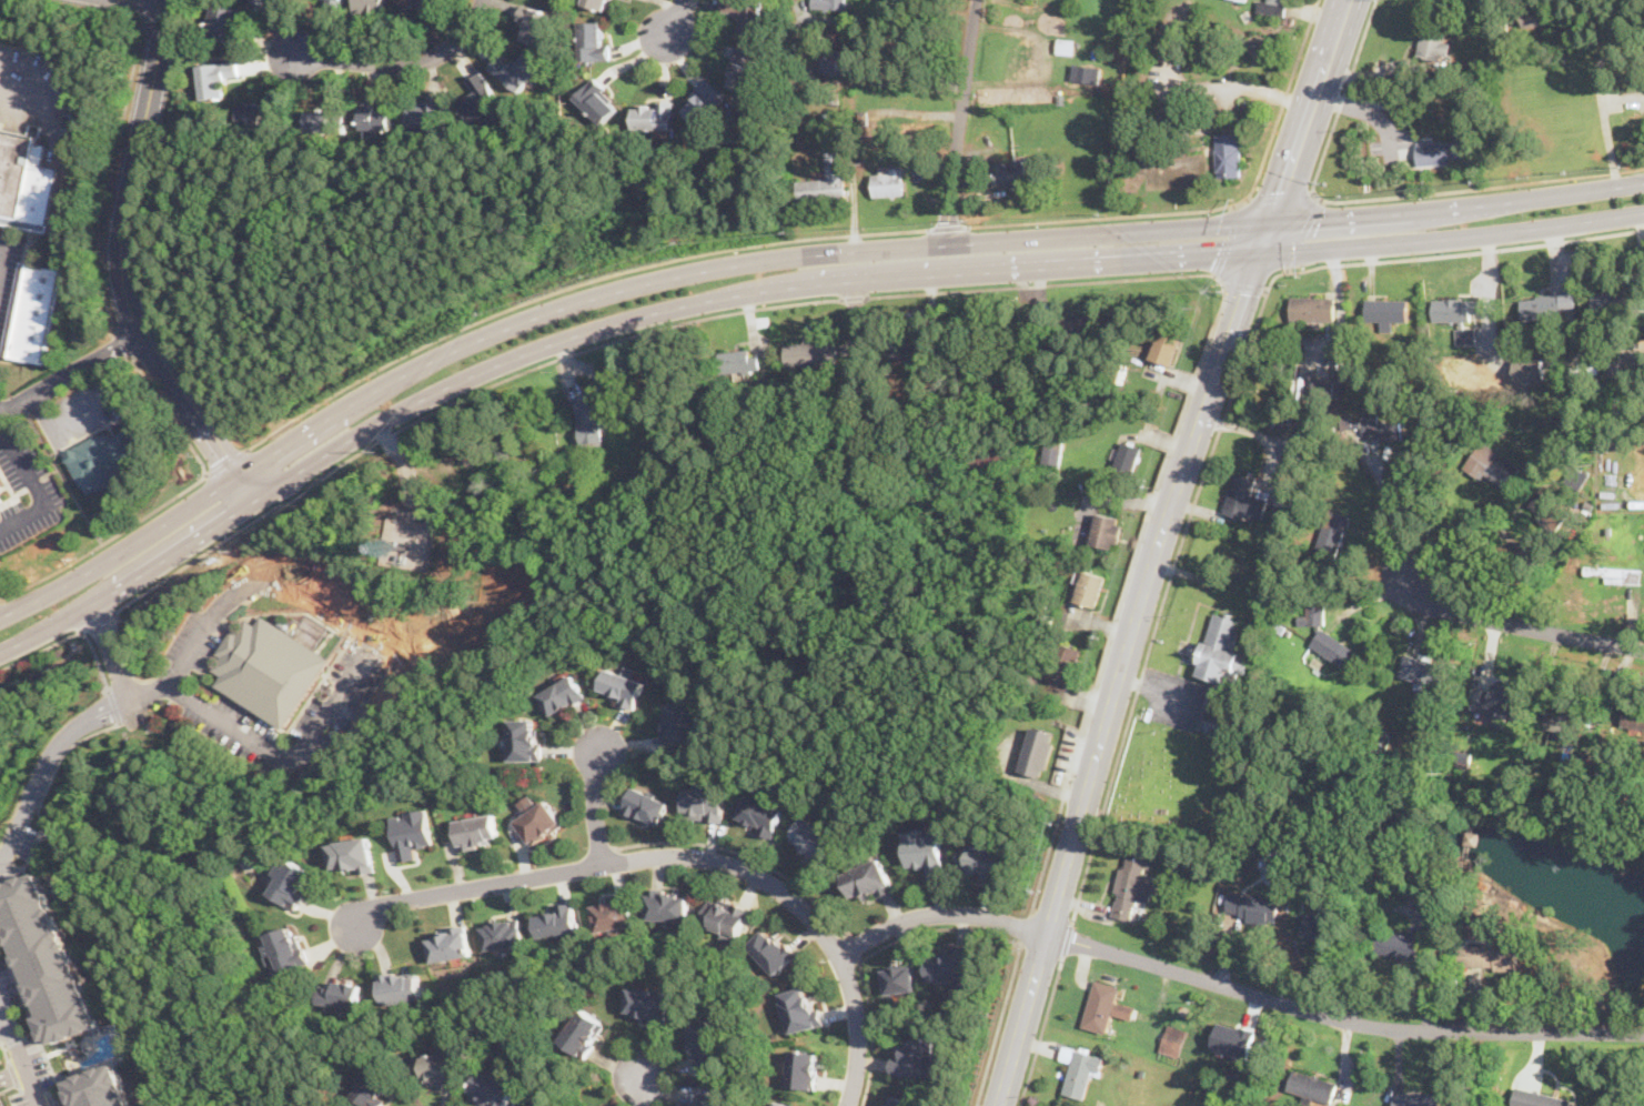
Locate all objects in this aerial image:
building: (262, 0)
building: (335, 0)
building: (413, 3)
building: (597, 3)
building: (830, 3)
road: (144, 4)
building: (370, 6)
building: (1272, 7)
road: (93, 10)
road: (147, 11)
building: (748, 12)
building: (1536, 17)
road: (906, 18)
building: (224, 20)
road: (674, 21)
building: (536, 27)
building: (594, 40)
building: (1435, 44)
building: (1027, 59)
building: (840, 60)
road: (399, 63)
building: (744, 69)
building: (520, 71)
building: (216, 77)
road: (42, 81)
road: (907, 81)
building: (480, 97)
road: (1342, 97)
building: (598, 99)
building: (704, 101)
road: (1311, 112)
building: (254, 113)
building: (426, 113)
building: (653, 115)
building: (377, 118)
building: (317, 121)
road: (961, 122)
road: (1606, 133)
building: (1229, 153)
building: (1439, 153)
building: (14, 169)
building: (1011, 172)
road: (110, 177)
building: (826, 180)
building: (889, 182)
road: (1476, 187)
traffic signals: (1283, 190)
building: (41, 194)
road: (1278, 197)
road: (1458, 204)
road: (1210, 208)
traffic signals: (1321, 219)
road: (946, 227)
road: (1302, 232)
road: (1453, 237)
road: (1267, 238)
road: (1229, 240)
traffic signals: (1218, 254)
road: (2, 257)
road: (122, 265)
parking lot: (9, 275)
road: (1040, 283)
road: (571, 285)
road: (1245, 285)
traffic signals: (1249, 293)
road: (854, 295)
road: (596, 296)
building: (1541, 306)
building: (1613, 306)
building: (1312, 308)
building: (1456, 309)
building: (1385, 310)
building: (34, 313)
road: (592, 329)
building: (1076, 329)
road: (123, 343)
building: (1163, 348)
building: (810, 352)
building: (911, 352)
building: (1638, 352)
building: (737, 360)
building: (1532, 369)
road: (71, 374)
building: (1328, 389)
parking lot: (90, 409)
building: (596, 412)
road: (65, 418)
road: (1223, 418)
road: (409, 423)
building: (1297, 426)
building: (1372, 426)
road: (853, 439)
building: (1048, 453)
building: (1128, 456)
building: (105, 460)
road: (225, 462)
building: (1492, 465)
building: (1576, 475)
road: (63, 477)
road: (34, 487)
parking lot: (29, 495)
building: (1248, 497)
building: (0, 499)
road: (164, 501)
building: (1282, 501)
building: (1545, 507)
road: (1389, 510)
building: (407, 526)
building: (1099, 532)
building: (1332, 536)
building: (1616, 573)
building: (1082, 587)
road: (1123, 592)
road: (98, 619)
road: (1517, 625)
road: (71, 633)
building: (1327, 636)
building: (1221, 648)
road: (110, 651)
building: (1062, 665)
building: (269, 667)
building: (1424, 668)
road: (1121, 675)
building: (622, 686)
road: (149, 692)
building: (564, 694)
building: (1501, 702)
road: (115, 706)
road: (214, 713)
building: (1627, 715)
building: (680, 720)
building: (1565, 722)
building: (526, 738)
building: (1037, 751)
road: (48, 767)
road: (52, 782)
building: (705, 801)
building: (646, 804)
road: (593, 805)
building: (760, 813)
building: (539, 821)
building: (477, 829)
building: (412, 832)
building: (814, 838)
building: (926, 849)
building: (353, 854)
road: (746, 854)
road: (611, 861)
building: (981, 861)
building: (870, 881)
building: (294, 884)
building: (1133, 886)
building: (1419, 899)
building: (669, 904)
building: (1252, 907)
road: (940, 912)
building: (614, 913)
building: (727, 915)
building: (557, 919)
building: (1318, 926)
road: (1025, 928)
building: (504, 932)
road: (1068, 938)
building: (450, 944)
building: (1399, 944)
road: (855, 947)
building: (286, 948)
building: (774, 948)
road: (869, 953)
building: (1490, 956)
building: (40, 959)
building: (951, 967)
building: (901, 978)
building: (402, 986)
building: (342, 993)
building: (648, 1003)
building: (1105, 1005)
building: (801, 1007)
road: (1340, 1018)
road: (2, 1022)
road: (998, 1024)
road: (859, 1028)
building: (585, 1032)
road: (1041, 1032)
building: (1172, 1038)
building: (1230, 1039)
building: (706, 1042)
building: (917, 1056)
road: (18, 1057)
building: (804, 1067)
building: (1080, 1067)
building: (435, 1069)
building: (376, 1086)
road: (641, 1086)
building: (1312, 1086)
building: (91, 1088)
building: (492, 1090)
building: (1416, 1098)
building: (1540, 1098)
building: (1, 1100)
building: (899, 1100)
building: (699, 1103)
building: (784, 1104)

